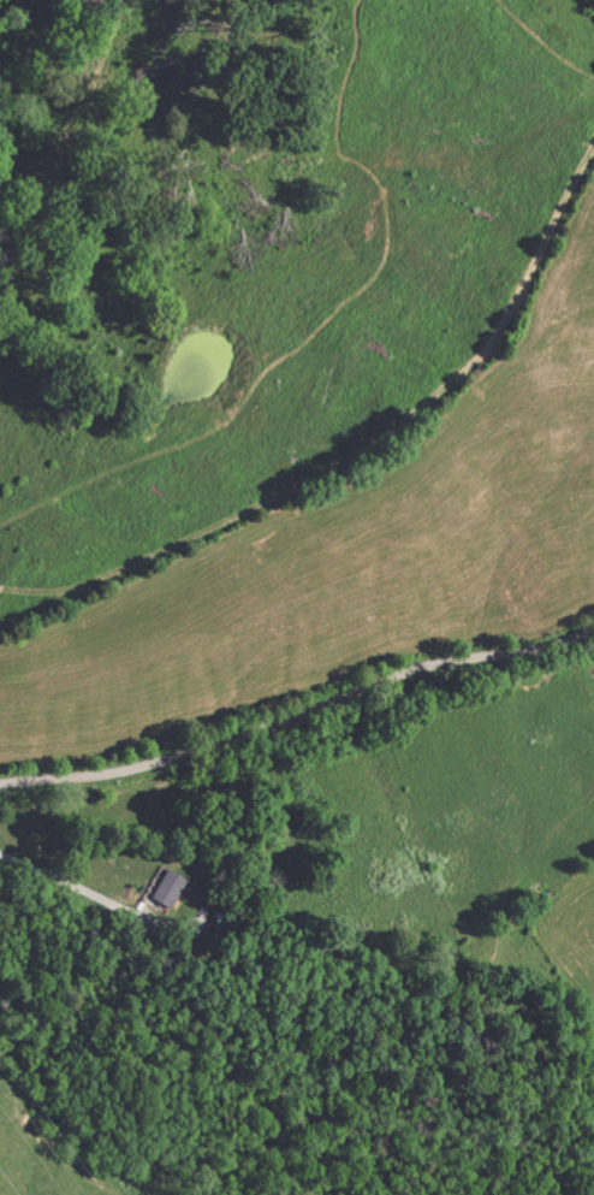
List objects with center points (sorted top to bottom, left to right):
road: (299, 716)
road: (77, 883)
building: (160, 886)

